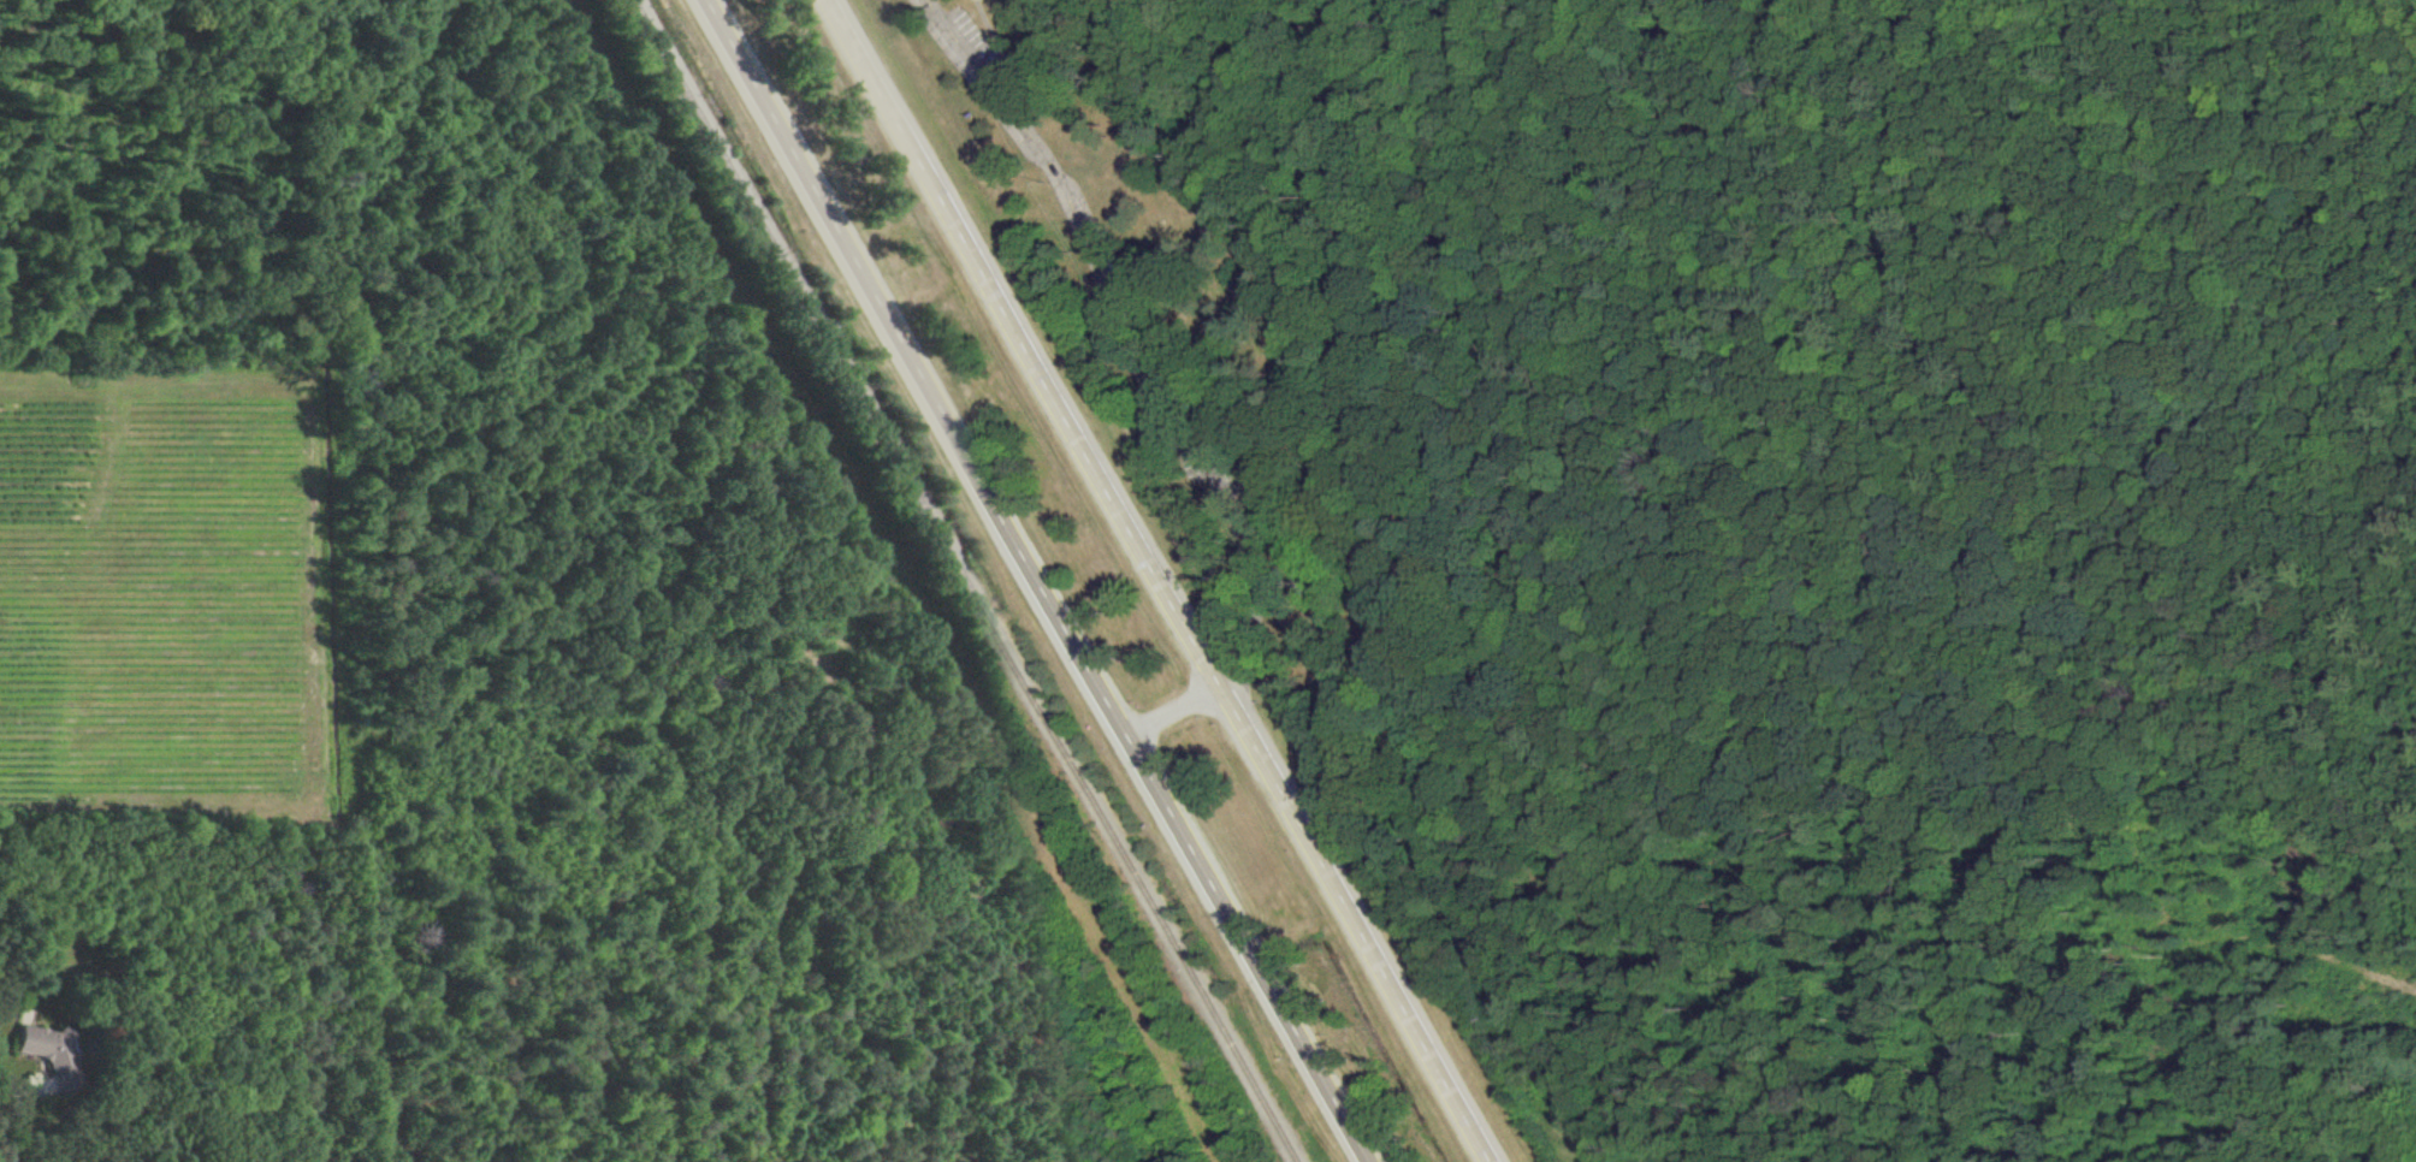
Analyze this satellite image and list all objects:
park: (1099, 324)
road: (1137, 330)
road: (1023, 343)
railway: (967, 581)
road: (1038, 581)
road: (1173, 711)
road: (1356, 924)
building: (45, 1045)
road: (10, 1122)

